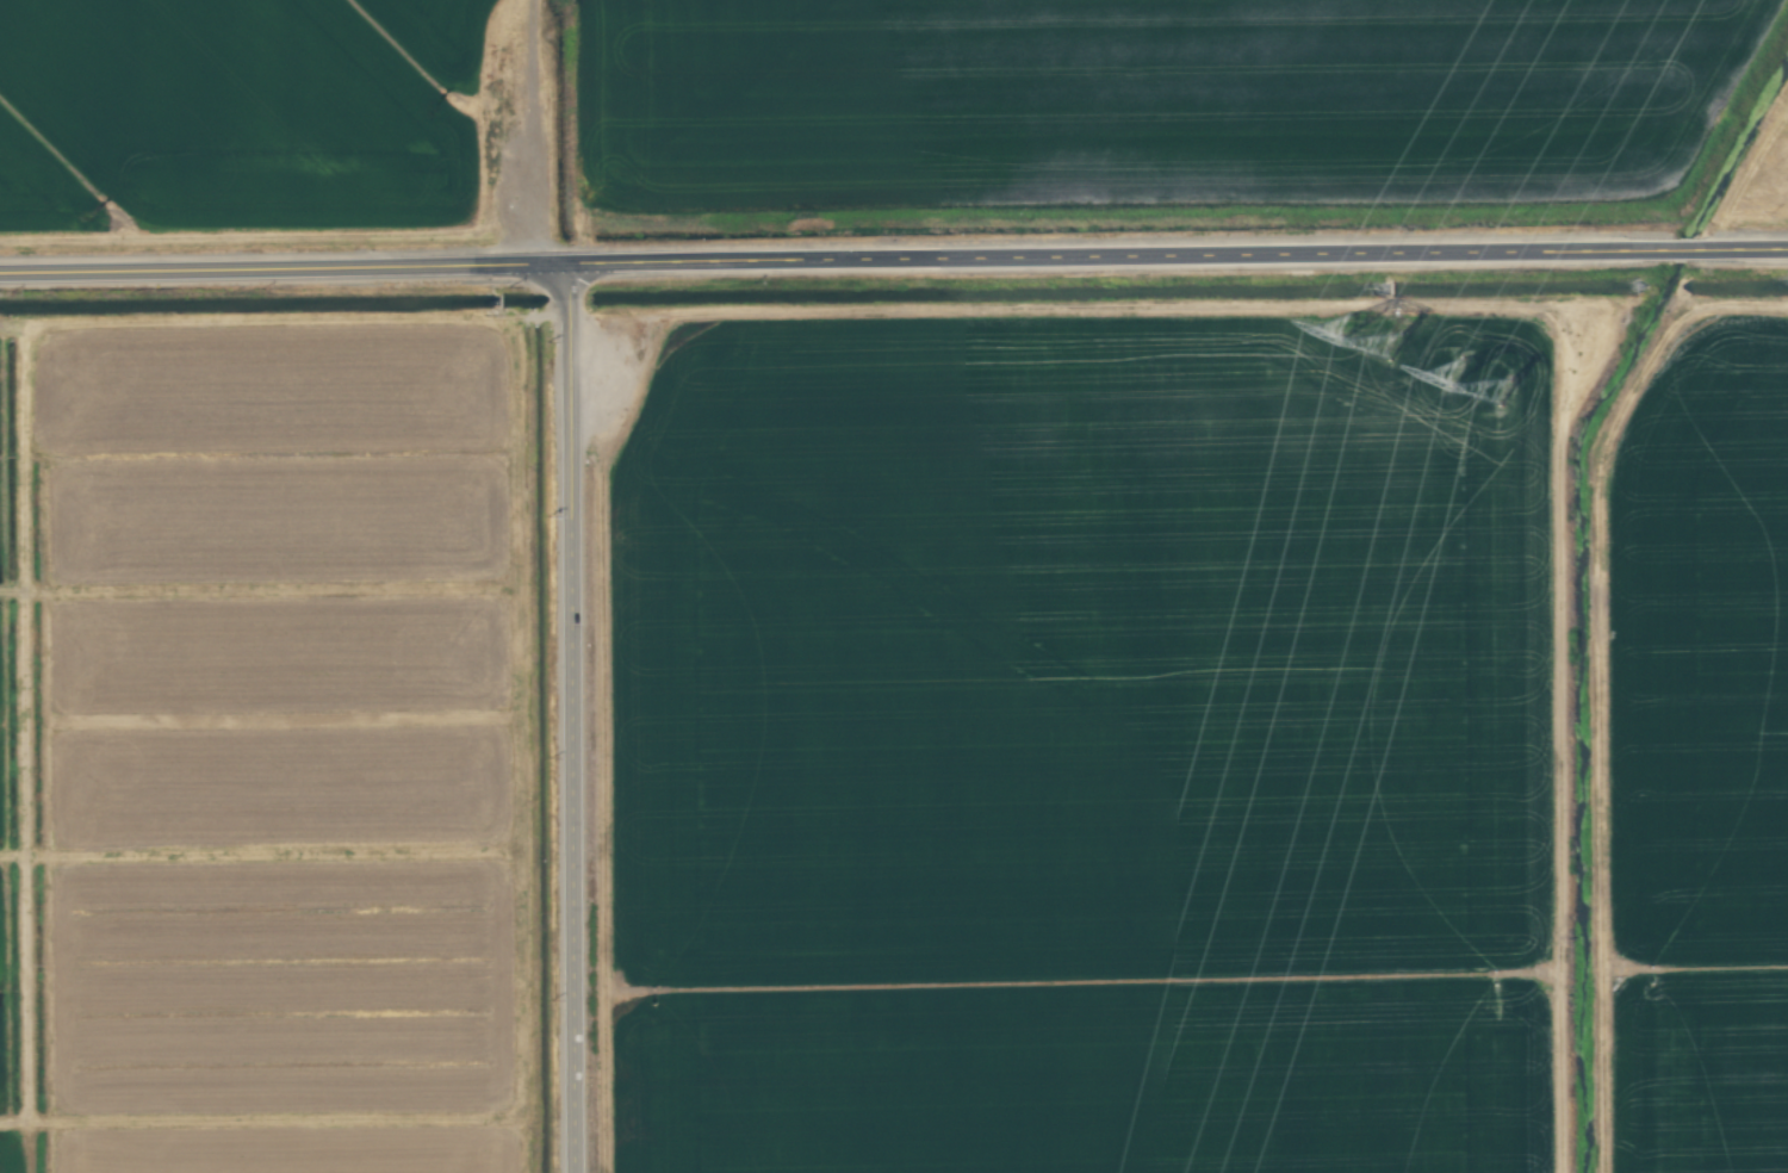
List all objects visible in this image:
road: (894, 261)
power tower: (1378, 337)
power tower: (1489, 385)
road: (579, 720)

